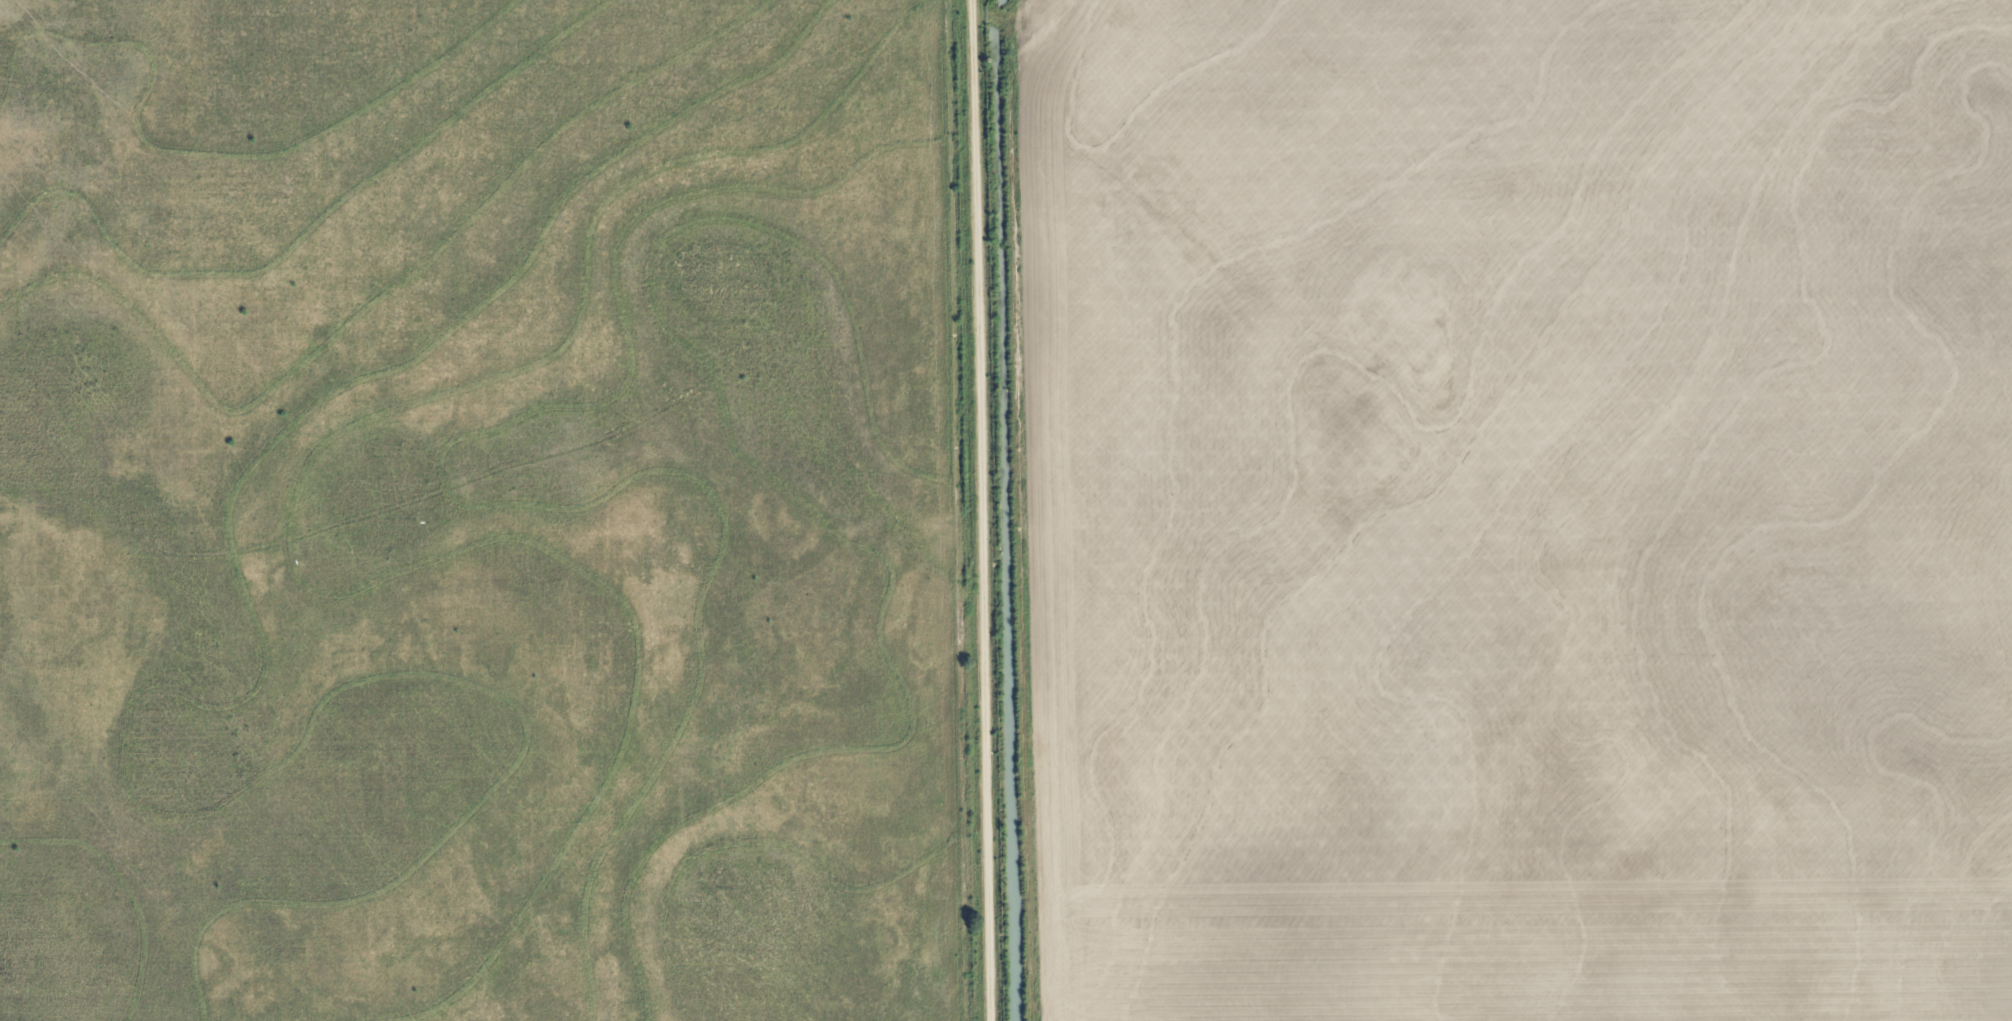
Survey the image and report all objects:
road: (997, 510)

